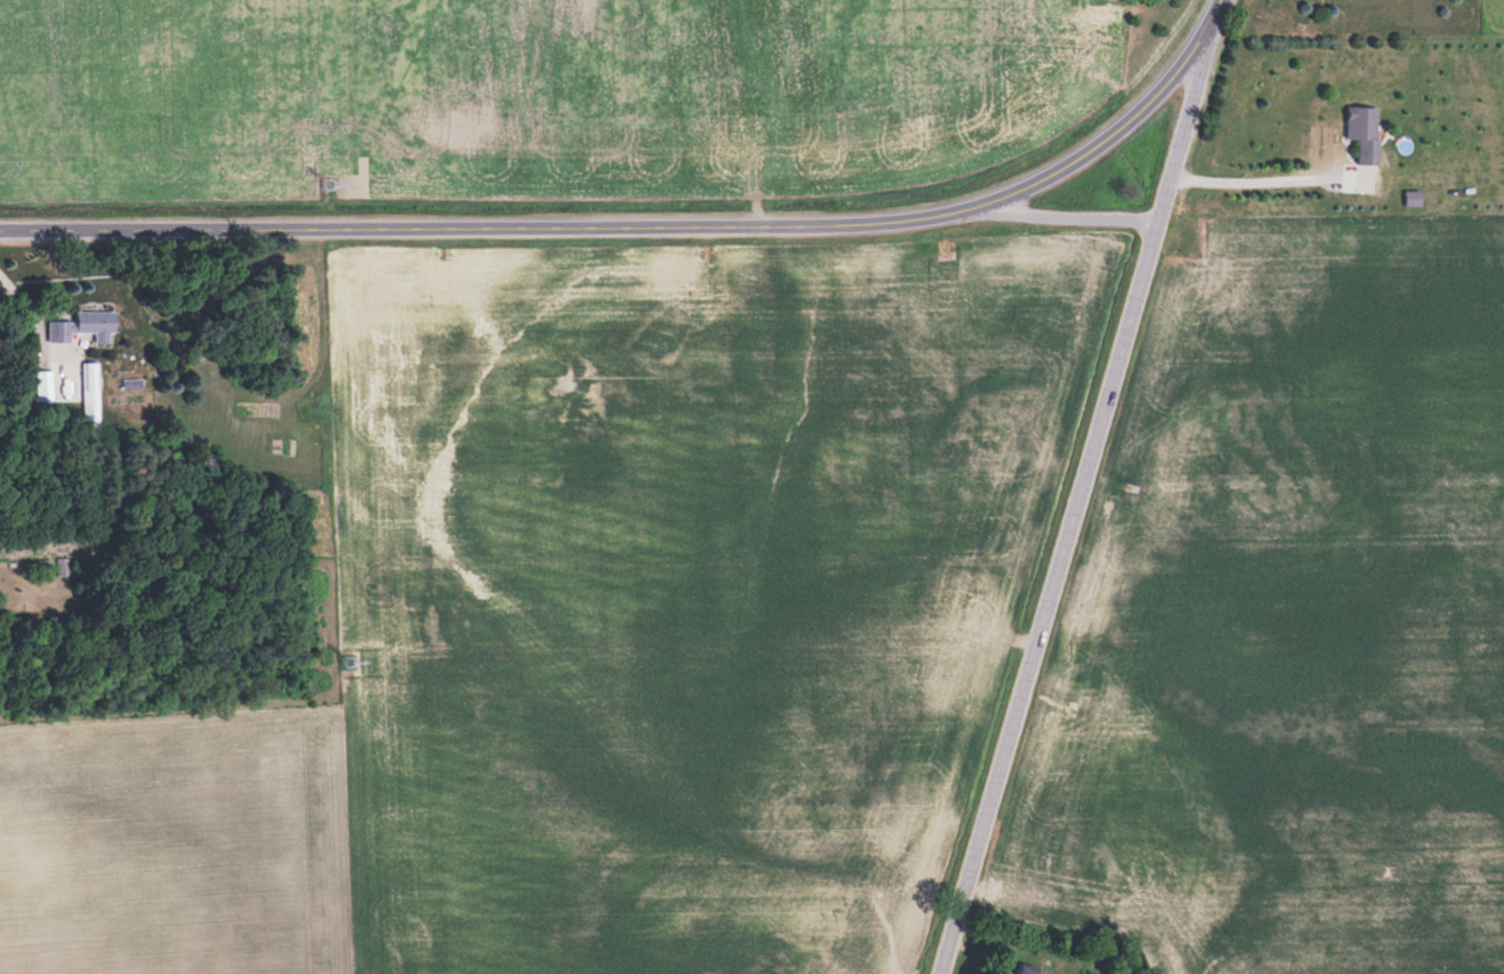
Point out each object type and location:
road: (1206, 20)
building: (1364, 130)
road: (1042, 175)
road: (1246, 175)
power tower: (332, 186)
building: (1413, 196)
road: (1074, 213)
road: (421, 227)
building: (84, 326)
building: (90, 390)
road: (1072, 508)
building: (63, 566)
power tower: (350, 660)
building: (1028, 968)

